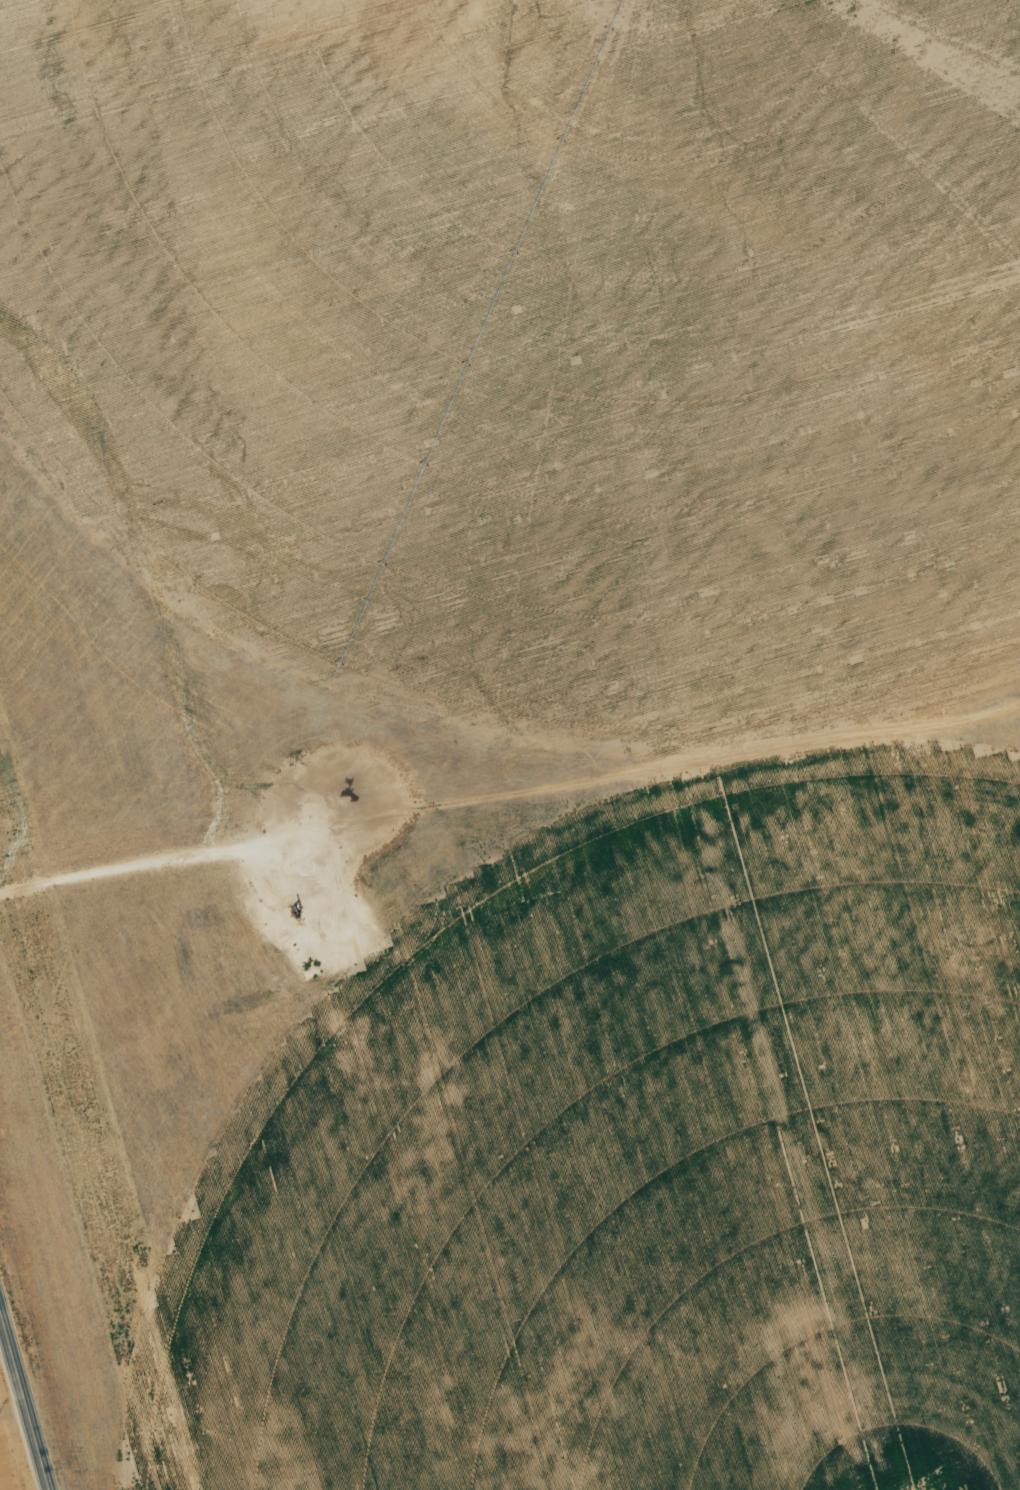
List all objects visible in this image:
road: (22, 1406)

